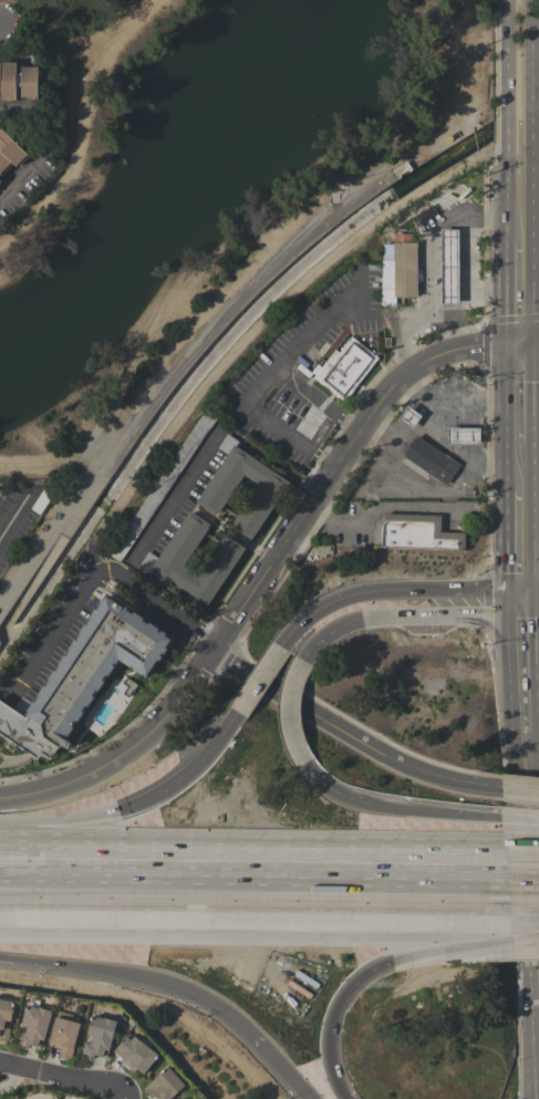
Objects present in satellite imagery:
road: (3, 33)
road: (529, 45)
road: (505, 54)
building: (18, 82)
road: (530, 104)
road: (506, 122)
road: (535, 133)
road: (45, 141)
building: (9, 153)
building: (402, 170)
building: (0, 183)
road: (505, 190)
road: (530, 228)
road: (434, 234)
building: (404, 266)
building: (449, 267)
road: (504, 294)
road: (422, 319)
road: (536, 340)
traffic signals: (532, 341)
traffic signals: (502, 344)
building: (344, 367)
road: (175, 375)
road: (255, 390)
road: (532, 392)
road: (317, 400)
building: (408, 417)
road: (502, 418)
building: (463, 436)
building: (431, 459)
road: (281, 466)
road: (179, 479)
building: (162, 486)
building: (266, 494)
road: (13, 516)
road: (369, 517)
road: (533, 517)
building: (414, 532)
road: (502, 542)
building: (163, 561)
road: (269, 569)
road: (95, 582)
road: (394, 591)
traffic signals: (535, 591)
road: (537, 591)
traffic signals: (504, 592)
road: (176, 597)
road: (504, 602)
road: (536, 611)
traffic signals: (533, 612)
road: (408, 613)
traffic signals: (504, 613)
road: (532, 661)
building: (83, 676)
road: (259, 678)
building: (128, 686)
road: (290, 713)
road: (4, 715)
road: (353, 733)
road: (214, 742)
road: (318, 778)
road: (536, 779)
road: (174, 789)
road: (521, 791)
road: (415, 811)
road: (520, 822)
road: (84, 833)
road: (517, 856)
road: (255, 864)
road: (524, 868)
railway: (269, 888)
road: (256, 914)
road: (525, 917)
road: (524, 933)
traffic signals: (384, 956)
road: (110, 962)
road: (365, 966)
building: (4, 1017)
building: (33, 1026)
road: (250, 1031)
building: (63, 1036)
building: (99, 1036)
building: (135, 1054)
road: (62, 1077)
road: (294, 1084)
building: (164, 1085)

